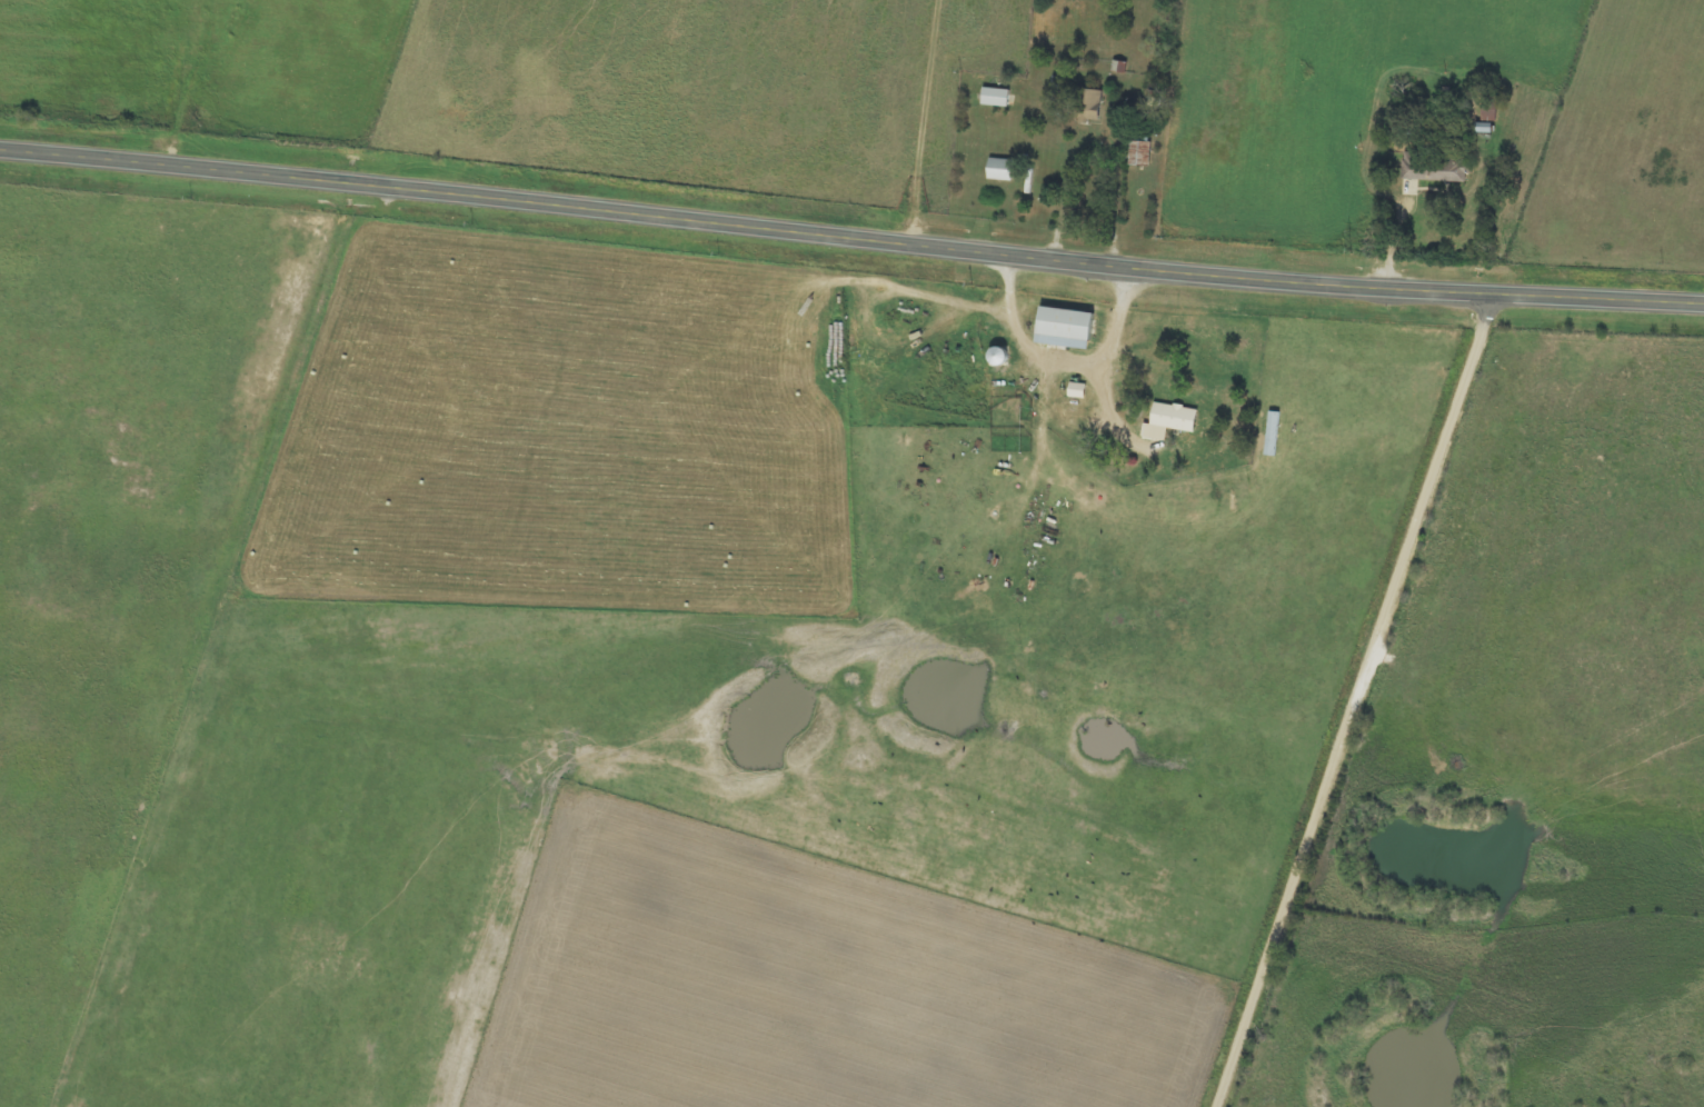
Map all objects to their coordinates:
building: (995, 98)
building: (1087, 107)
building: (1139, 154)
building: (1415, 167)
building: (999, 171)
road: (850, 238)
building: (1063, 329)
building: (1076, 391)
building: (1168, 422)
road: (1356, 701)

